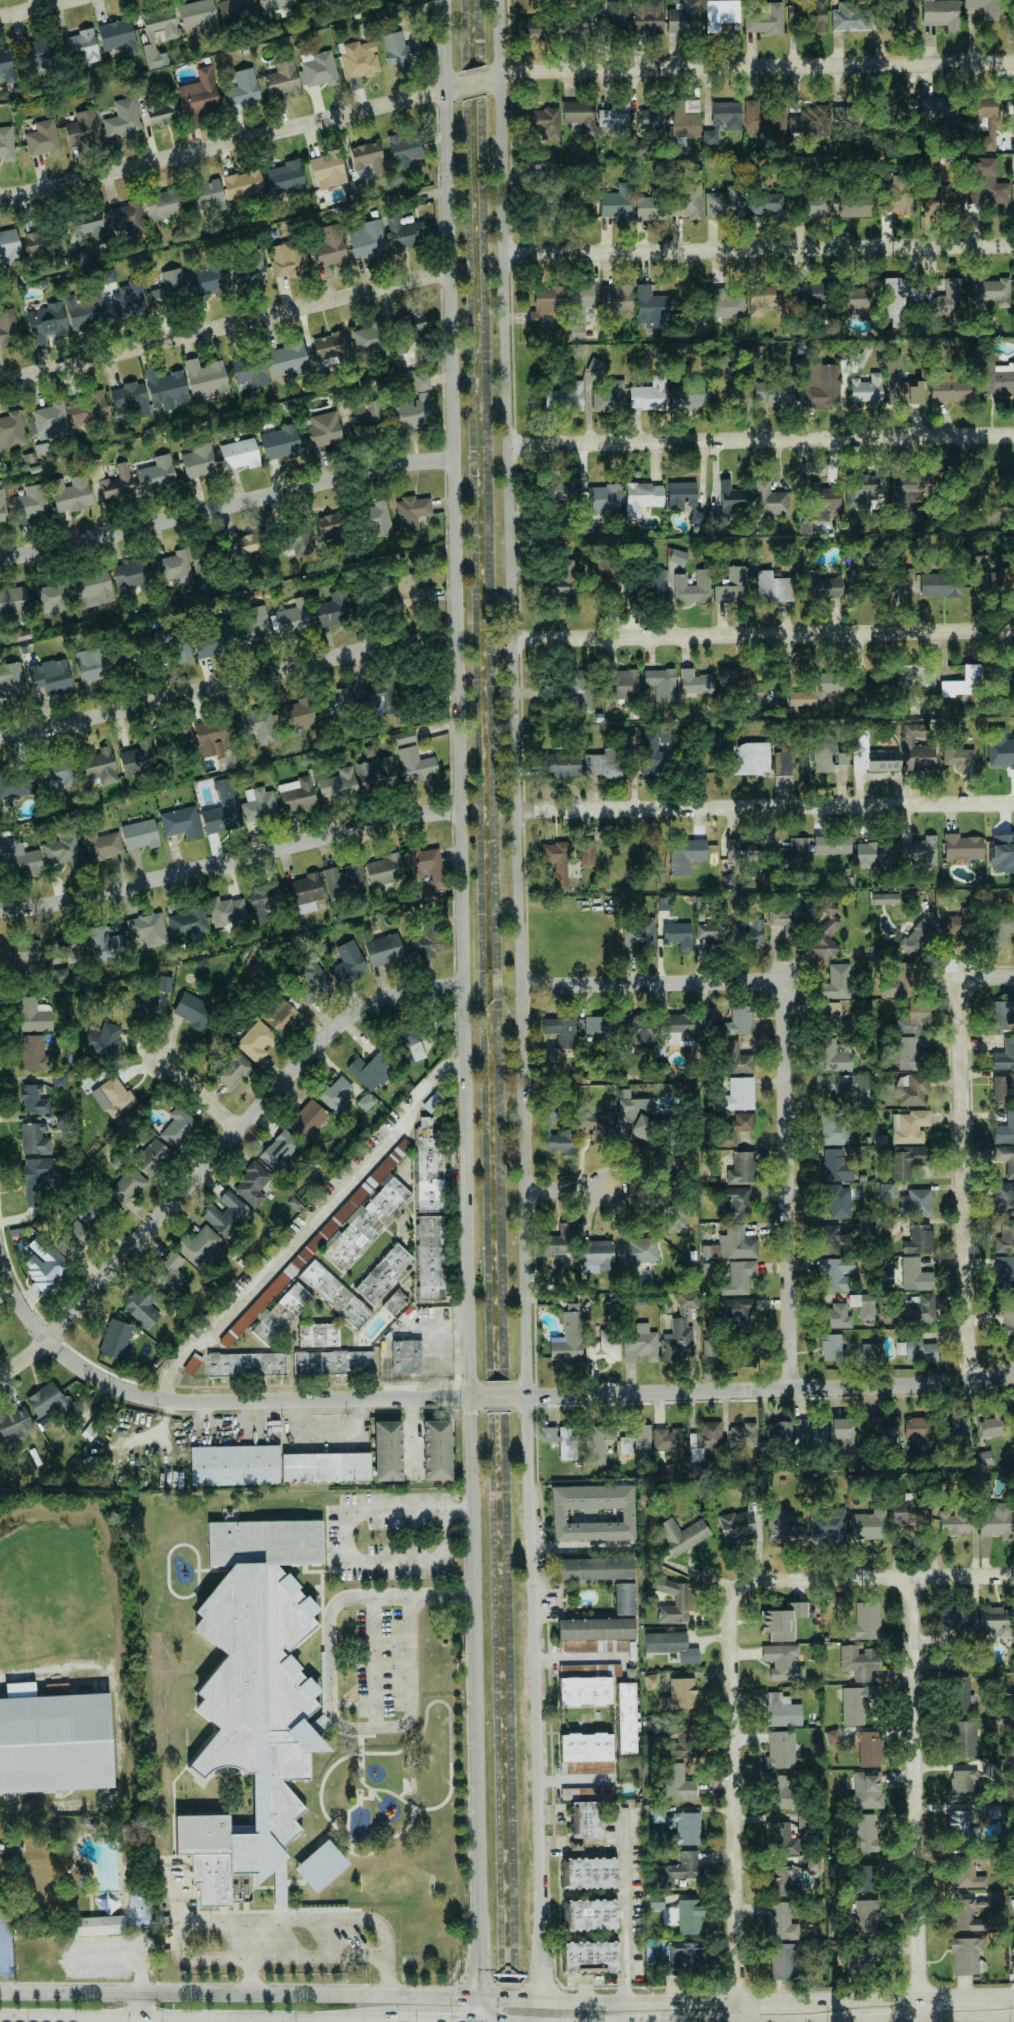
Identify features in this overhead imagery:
building: (308, 1)
building: (276, 5)
road: (35, 8)
building: (987, 8)
building: (236, 9)
building: (721, 13)
building: (941, 13)
building: (616, 14)
building: (906, 14)
building: (198, 15)
building: (647, 16)
building: (808, 16)
building: (683, 17)
building: (850, 17)
building: (580, 19)
building: (766, 19)
building: (535, 28)
building: (158, 35)
building: (118, 36)
building: (80, 46)
building: (400, 50)
building: (35, 57)
building: (360, 59)
building: (6, 66)
building: (319, 68)
road: (749, 68)
building: (282, 78)
road: (474, 84)
building: (242, 89)
building: (199, 94)
building: (897, 105)
building: (939, 107)
building: (983, 109)
building: (162, 113)
building: (579, 113)
building: (845, 115)
building: (762, 117)
building: (615, 118)
building: (684, 118)
building: (122, 119)
building: (650, 119)
building: (723, 121)
building: (811, 121)
building: (544, 122)
building: (82, 128)
building: (45, 135)
building: (6, 142)
road: (231, 143)
building: (406, 150)
building: (368, 159)
building: (327, 170)
building: (285, 177)
building: (243, 184)
building: (987, 185)
building: (898, 195)
building: (551, 201)
building: (687, 201)
building: (942, 201)
building: (617, 203)
building: (724, 203)
building: (772, 204)
building: (811, 204)
building: (853, 204)
building: (164, 205)
building: (651, 205)
building: (126, 214)
building: (88, 226)
building: (405, 233)
building: (368, 239)
building: (36, 243)
building: (9, 246)
building: (329, 250)
road: (759, 250)
building: (79, 259)
building: (289, 259)
building: (249, 269)
building: (207, 280)
building: (169, 287)
building: (991, 292)
building: (810, 295)
building: (857, 297)
building: (901, 297)
building: (130, 298)
building: (767, 298)
building: (617, 299)
building: (948, 299)
building: (546, 303)
building: (727, 306)
building: (580, 308)
building: (650, 308)
building: (85, 310)
building: (46, 323)
road: (224, 326)
building: (410, 327)
building: (8, 328)
building: (368, 337)
building: (329, 346)
building: (287, 360)
building: (596, 366)
building: (251, 371)
building: (205, 378)
building: (996, 378)
building: (422, 382)
building: (900, 383)
building: (821, 386)
building: (166, 388)
building: (724, 389)
building: (866, 389)
building: (949, 390)
building: (776, 392)
building: (649, 395)
building: (128, 396)
building: (608, 396)
building: (565, 397)
building: (688, 397)
building: (87, 409)
building: (409, 412)
building: (51, 420)
building: (368, 420)
building: (324, 429)
building: (12, 430)
road: (762, 439)
building: (280, 443)
building: (239, 454)
building: (199, 461)
building: (95, 469)
building: (156, 472)
building: (117, 483)
building: (912, 486)
building: (561, 490)
building: (863, 491)
building: (71, 493)
building: (642, 497)
building: (734, 497)
building: (603, 498)
building: (849, 498)
building: (769, 500)
building: (821, 500)
building: (32, 501)
building: (685, 501)
road: (226, 505)
building: (2, 507)
building: (412, 512)
building: (379, 518)
building: (330, 525)
building: (586, 528)
building: (297, 541)
building: (252, 543)
building: (677, 556)
building: (205, 561)
building: (175, 568)
building: (979, 572)
building: (131, 574)
building: (600, 576)
building: (559, 580)
building: (655, 581)
building: (940, 585)
building: (732, 586)
building: (773, 587)
building: (821, 587)
building: (693, 588)
building: (92, 589)
building: (633, 589)
building: (412, 592)
building: (53, 598)
building: (13, 604)
building: (332, 609)
building: (294, 618)
building: (256, 622)
road: (764, 634)
building: (212, 640)
building: (171, 644)
building: (135, 650)
building: (92, 664)
building: (1003, 674)
building: (50, 676)
building: (916, 676)
building: (11, 681)
building: (695, 682)
building: (964, 682)
road: (227, 683)
building: (660, 683)
building: (622, 684)
building: (405, 685)
building: (863, 686)
building: (574, 689)
building: (820, 689)
building: (373, 698)
building: (334, 702)
building: (295, 715)
building: (258, 726)
building: (214, 735)
building: (666, 736)
building: (403, 737)
building: (172, 739)
building: (917, 748)
building: (1000, 748)
building: (827, 754)
building: (872, 755)
building: (958, 757)
building: (138, 758)
building: (751, 759)
building: (784, 761)
building: (603, 763)
building: (416, 764)
building: (561, 765)
building: (99, 766)
building: (376, 773)
building: (56, 775)
building: (15, 784)
building: (339, 785)
building: (297, 795)
building: (259, 804)
road: (767, 804)
building: (222, 810)
building: (181, 822)
building: (139, 834)
building: (832, 844)
building: (102, 845)
building: (962, 847)
building: (739, 850)
building: (61, 851)
building: (920, 851)
building: (587, 853)
building: (686, 853)
building: (1002, 853)
building: (791, 854)
building: (874, 854)
road: (229, 859)
building: (21, 860)
building: (556, 860)
building: (384, 870)
building: (426, 870)
building: (344, 880)
building: (305, 892)
building: (885, 898)
building: (265, 899)
building: (737, 902)
building: (228, 911)
building: (785, 917)
building: (960, 922)
building: (187, 924)
building: (999, 927)
building: (148, 929)
building: (712, 931)
building: (749, 931)
building: (826, 932)
building: (639, 933)
building: (678, 935)
building: (428, 936)
building: (917, 938)
building: (106, 943)
building: (70, 950)
building: (383, 950)
building: (27, 959)
building: (347, 961)
building: (60, 975)
road: (986, 977)
road: (631, 980)
building: (836, 982)
building: (898, 982)
building: (164, 983)
building: (314, 987)
road: (462, 998)
road: (525, 999)
building: (136, 1007)
building: (193, 1010)
building: (34, 1015)
building: (280, 1015)
building: (1002, 1015)
building: (833, 1019)
building: (739, 1020)
building: (912, 1020)
building: (599, 1027)
building: (703, 1028)
building: (677, 1029)
building: (561, 1031)
building: (103, 1040)
building: (256, 1041)
building: (406, 1041)
building: (33, 1053)
building: (907, 1054)
building: (834, 1055)
building: (1004, 1055)
building: (742, 1063)
building: (232, 1068)
building: (370, 1070)
building: (59, 1081)
building: (1001, 1089)
road: (202, 1093)
building: (335, 1093)
building: (739, 1094)
building: (113, 1097)
building: (34, 1099)
building: (432, 1101)
building: (637, 1117)
building: (307, 1120)
building: (597, 1126)
building: (735, 1126)
building: (910, 1126)
building: (177, 1127)
building: (832, 1128)
building: (1005, 1129)
building: (558, 1136)
building: (35, 1139)
building: (279, 1151)
road: (217, 1154)
building: (151, 1157)
road: (792, 1157)
building: (1006, 1159)
building: (908, 1161)
building: (430, 1163)
building: (835, 1166)
building: (742, 1168)
building: (37, 1179)
road: (964, 1179)
building: (252, 1183)
building: (126, 1185)
road: (568, 1186)
building: (887, 1190)
building: (1003, 1198)
building: (838, 1202)
building: (917, 1203)
building: (736, 1204)
building: (98, 1211)
building: (227, 1214)
building: (676, 1220)
road: (311, 1227)
building: (835, 1236)
building: (1005, 1236)
building: (336, 1237)
building: (919, 1239)
building: (73, 1240)
building: (560, 1241)
building: (736, 1243)
building: (200, 1245)
building: (637, 1253)
building: (597, 1256)
building: (430, 1258)
building: (43, 1267)
building: (166, 1271)
building: (384, 1273)
building: (835, 1273)
building: (1004, 1273)
building: (915, 1275)
building: (738, 1277)
building: (335, 1294)
building: (687, 1301)
building: (394, 1302)
road: (19, 1303)
building: (863, 1305)
building: (142, 1306)
building: (739, 1309)
building: (920, 1309)
building: (280, 1314)
building: (836, 1315)
building: (1007, 1319)
building: (319, 1335)
building: (116, 1340)
building: (567, 1340)
building: (677, 1341)
building: (640, 1343)
building: (709, 1347)
building: (832, 1347)
building: (603, 1348)
building: (919, 1349)
building: (867, 1350)
building: (746, 1353)
building: (406, 1356)
building: (333, 1362)
building: (246, 1364)
road: (742, 1390)
building: (48, 1400)
road: (248, 1401)
building: (1012, 1412)
building: (994, 1424)
building: (14, 1425)
building: (918, 1430)
building: (780, 1432)
building: (879, 1432)
building: (810, 1434)
building: (742, 1435)
building: (845, 1435)
building: (955, 1435)
building: (704, 1439)
building: (563, 1440)
building: (635, 1440)
building: (669, 1442)
building: (598, 1443)
building: (387, 1450)
building: (437, 1450)
building: (983, 1458)
building: (234, 1465)
building: (325, 1467)
building: (754, 1493)
building: (909, 1513)
building: (593, 1516)
building: (954, 1520)
building: (996, 1521)
building: (736, 1524)
building: (869, 1525)
building: (781, 1528)
building: (682, 1535)
road: (345, 1545)
building: (595, 1569)
road: (966, 1580)
road: (802, 1582)
building: (624, 1599)
building: (674, 1602)
building: (865, 1620)
building: (782, 1621)
building: (991, 1621)
building: (950, 1623)
building: (592, 1633)
building: (671, 1645)
building: (859, 1661)
building: (783, 1662)
road: (375, 1663)
building: (651, 1681)
building: (18, 1689)
building: (584, 1691)
road: (330, 1694)
building: (680, 1695)
building: (961, 1696)
building: (250, 1698)
building: (857, 1703)
building: (781, 1710)
building: (625, 1718)
road: (118, 1729)
building: (832, 1736)
building: (962, 1739)
building: (685, 1742)
building: (55, 1745)
building: (780, 1749)
building: (869, 1749)
building: (586, 1753)
building: (990, 1771)
building: (680, 1782)
building: (961, 1784)
building: (866, 1790)
building: (778, 1791)
building: (587, 1793)
road: (918, 1801)
building: (585, 1819)
building: (680, 1826)
building: (960, 1827)
building: (861, 1832)
road: (736, 1833)
building: (781, 1838)
building: (1012, 1861)
building: (813, 1864)
building: (320, 1866)
building: (679, 1870)
building: (589, 1873)
building: (970, 1874)
building: (866, 1877)
building: (784, 1881)
building: (994, 1897)
building: (656, 1901)
building: (1013, 1903)
road: (625, 1907)
building: (140, 1909)
park: (140, 1909)
building: (590, 1915)
building: (689, 1916)
building: (967, 1916)
road: (200, 1919)
building: (864, 1919)
building: (780, 1921)
building: (92, 1926)
park: (6, 1952)
building: (684, 1954)
building: (965, 1954)
building: (857, 1955)
building: (590, 1956)
building: (785, 1961)
building: (674, 1971)
road: (250, 1977)
road: (239, 1995)
road: (999, 1996)
road: (951, 1997)
traffic signals: (498, 1998)
road: (864, 1998)
road: (607, 2000)
road: (774, 2001)
road: (479, 2009)
road: (197, 2017)
road: (966, 2019)
road: (437, 2020)
traffic signals: (458, 2021)
road: (479, 2021)
road: (484, 2021)
road: (889, 2021)

